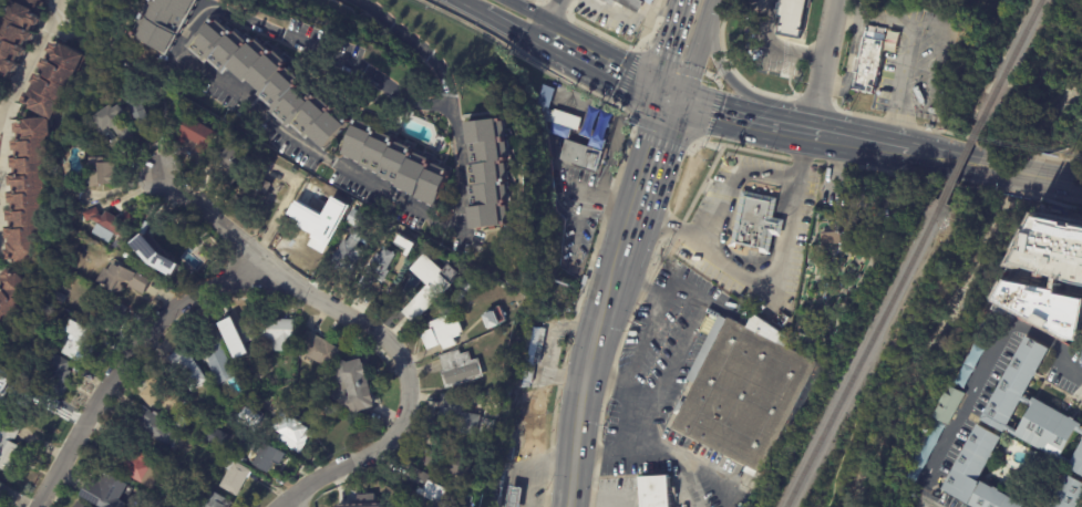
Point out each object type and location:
building: (629, 4)
road: (464, 6)
park: (975, 9)
building: (879, 10)
road: (614, 11)
road: (642, 11)
road: (522, 14)
road: (547, 17)
building: (787, 19)
building: (168, 22)
road: (505, 28)
building: (13, 30)
road: (543, 35)
road: (555, 41)
road: (409, 42)
road: (779, 43)
road: (24, 50)
road: (785, 50)
road: (910, 50)
road: (682, 51)
road: (692, 51)
railway: (1012, 60)
building: (867, 63)
building: (897, 64)
road: (783, 65)
road: (824, 66)
road: (695, 69)
road: (724, 72)
road: (617, 73)
park: (1020, 79)
building: (43, 80)
building: (270, 83)
road: (234, 90)
building: (545, 96)
traffic signals: (671, 102)
road: (564, 108)
building: (137, 113)
road: (714, 113)
building: (563, 120)
building: (112, 123)
road: (787, 127)
building: (196, 136)
road: (861, 142)
road: (1017, 151)
road: (936, 155)
building: (580, 156)
road: (1063, 159)
railway: (961, 161)
road: (983, 163)
building: (398, 164)
building: (226, 167)
road: (1018, 169)
road: (1059, 169)
building: (100, 173)
building: (488, 175)
road: (1059, 177)
road: (646, 179)
building: (259, 182)
road: (735, 184)
building: (71, 190)
road: (835, 190)
building: (21, 193)
parking lot: (869, 195)
road: (729, 196)
building: (323, 197)
road: (600, 204)
building: (355, 218)
building: (755, 223)
building: (109, 225)
parking lot: (752, 231)
building: (312, 237)
building: (831, 238)
building: (169, 242)
building: (1059, 242)
building: (350, 251)
building: (379, 267)
road: (771, 278)
building: (123, 280)
building: (422, 282)
road: (291, 283)
building: (1051, 289)
building: (11, 297)
building: (59, 298)
building: (452, 303)
building: (54, 315)
building: (494, 315)
road: (900, 322)
building: (277, 334)
building: (442, 334)
building: (241, 340)
building: (79, 343)
road: (550, 349)
building: (319, 350)
building: (530, 352)
road: (680, 352)
building: (215, 353)
railway: (863, 353)
road: (130, 358)
building: (971, 366)
road: (983, 368)
building: (460, 370)
building: (54, 372)
building: (186, 372)
road: (631, 373)
road: (583, 380)
building: (3, 383)
road: (605, 383)
building: (353, 386)
building: (28, 395)
building: (162, 395)
building: (748, 395)
building: (950, 406)
building: (332, 411)
building: (251, 417)
building: (462, 418)
building: (212, 420)
building: (154, 426)
building: (1013, 432)
building: (293, 434)
building: (217, 439)
building: (9, 446)
building: (228, 451)
building: (928, 452)
building: (269, 457)
building: (507, 457)
building: (241, 459)
building: (450, 461)
road: (361, 462)
road: (683, 462)
road: (534, 467)
building: (141, 469)
building: (234, 477)
building: (0, 483)
building: (424, 486)
road: (687, 486)
park: (848, 487)
building: (1, 488)
building: (172, 489)
building: (109, 490)
building: (658, 493)
building: (494, 494)
building: (1068, 494)
building: (471, 496)
building: (514, 496)
road: (608, 496)
road: (925, 498)
building: (214, 500)
building: (364, 501)
building: (443, 501)
park: (1080, 503)
building: (79, 505)

